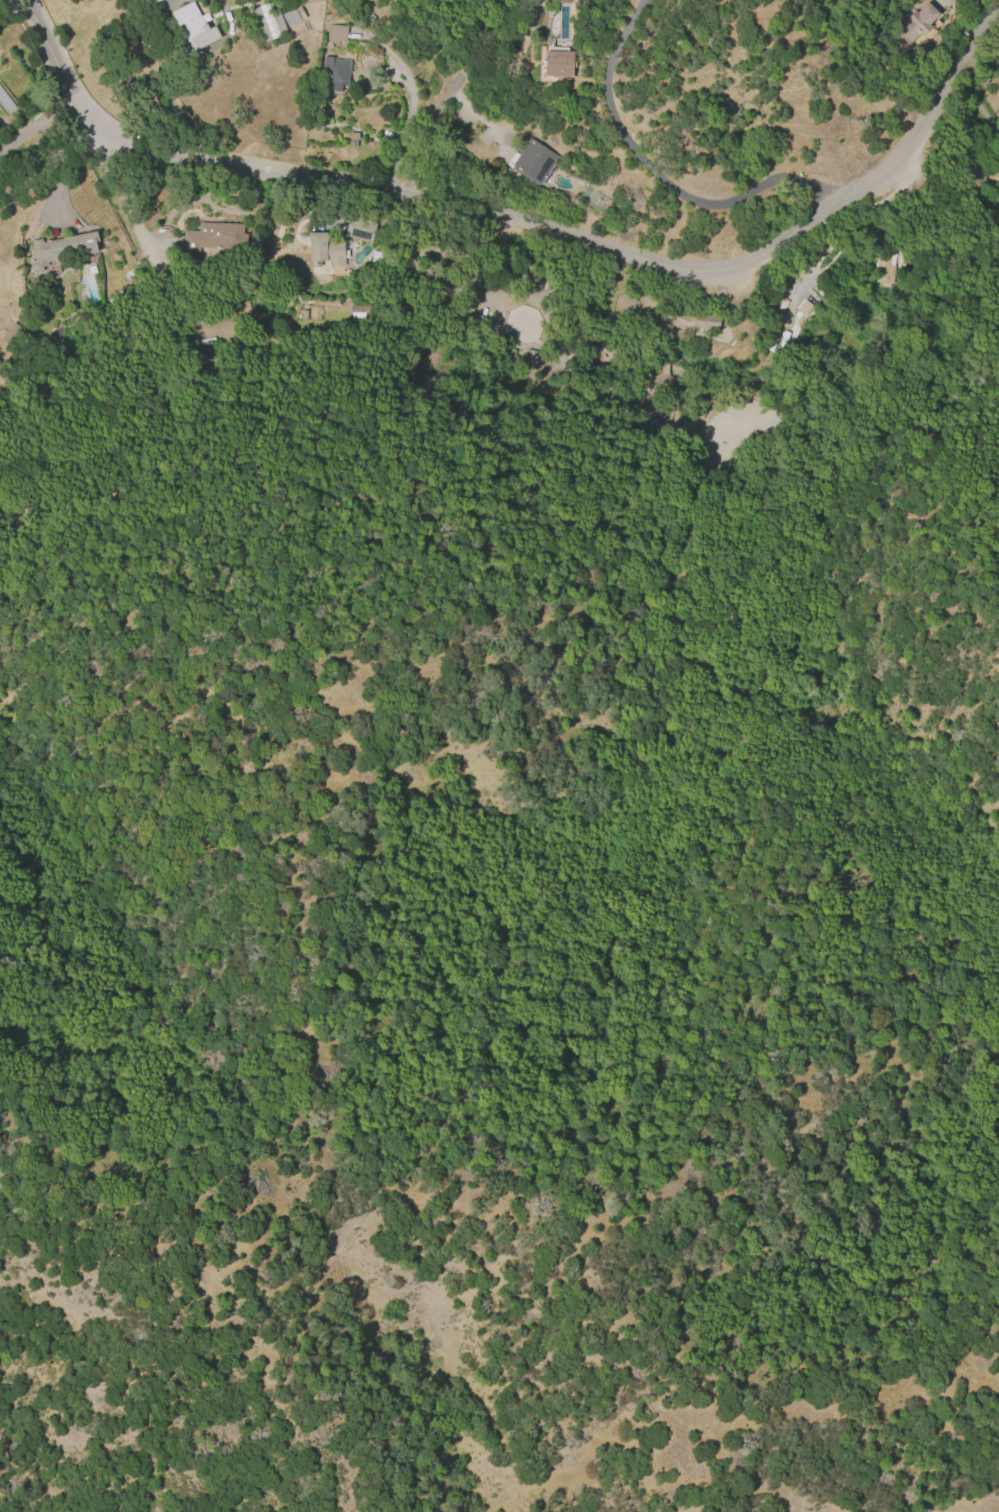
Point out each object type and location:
building: (151, 1)
road: (173, 2)
building: (292, 16)
building: (269, 21)
building: (915, 23)
building: (193, 26)
building: (336, 33)
building: (996, 51)
road: (166, 64)
building: (558, 64)
road: (57, 66)
building: (335, 73)
road: (458, 78)
road: (406, 80)
road: (35, 132)
building: (352, 139)
road: (39, 159)
building: (534, 162)
building: (977, 171)
road: (654, 174)
road: (127, 196)
building: (359, 231)
building: (213, 238)
road: (601, 243)
building: (60, 248)
building: (325, 249)
building: (884, 268)
building: (781, 305)
building: (806, 309)
building: (360, 312)
building: (705, 322)
building: (9, 334)
building: (531, 356)
building: (653, 405)
road: (116, 421)
road: (655, 524)

